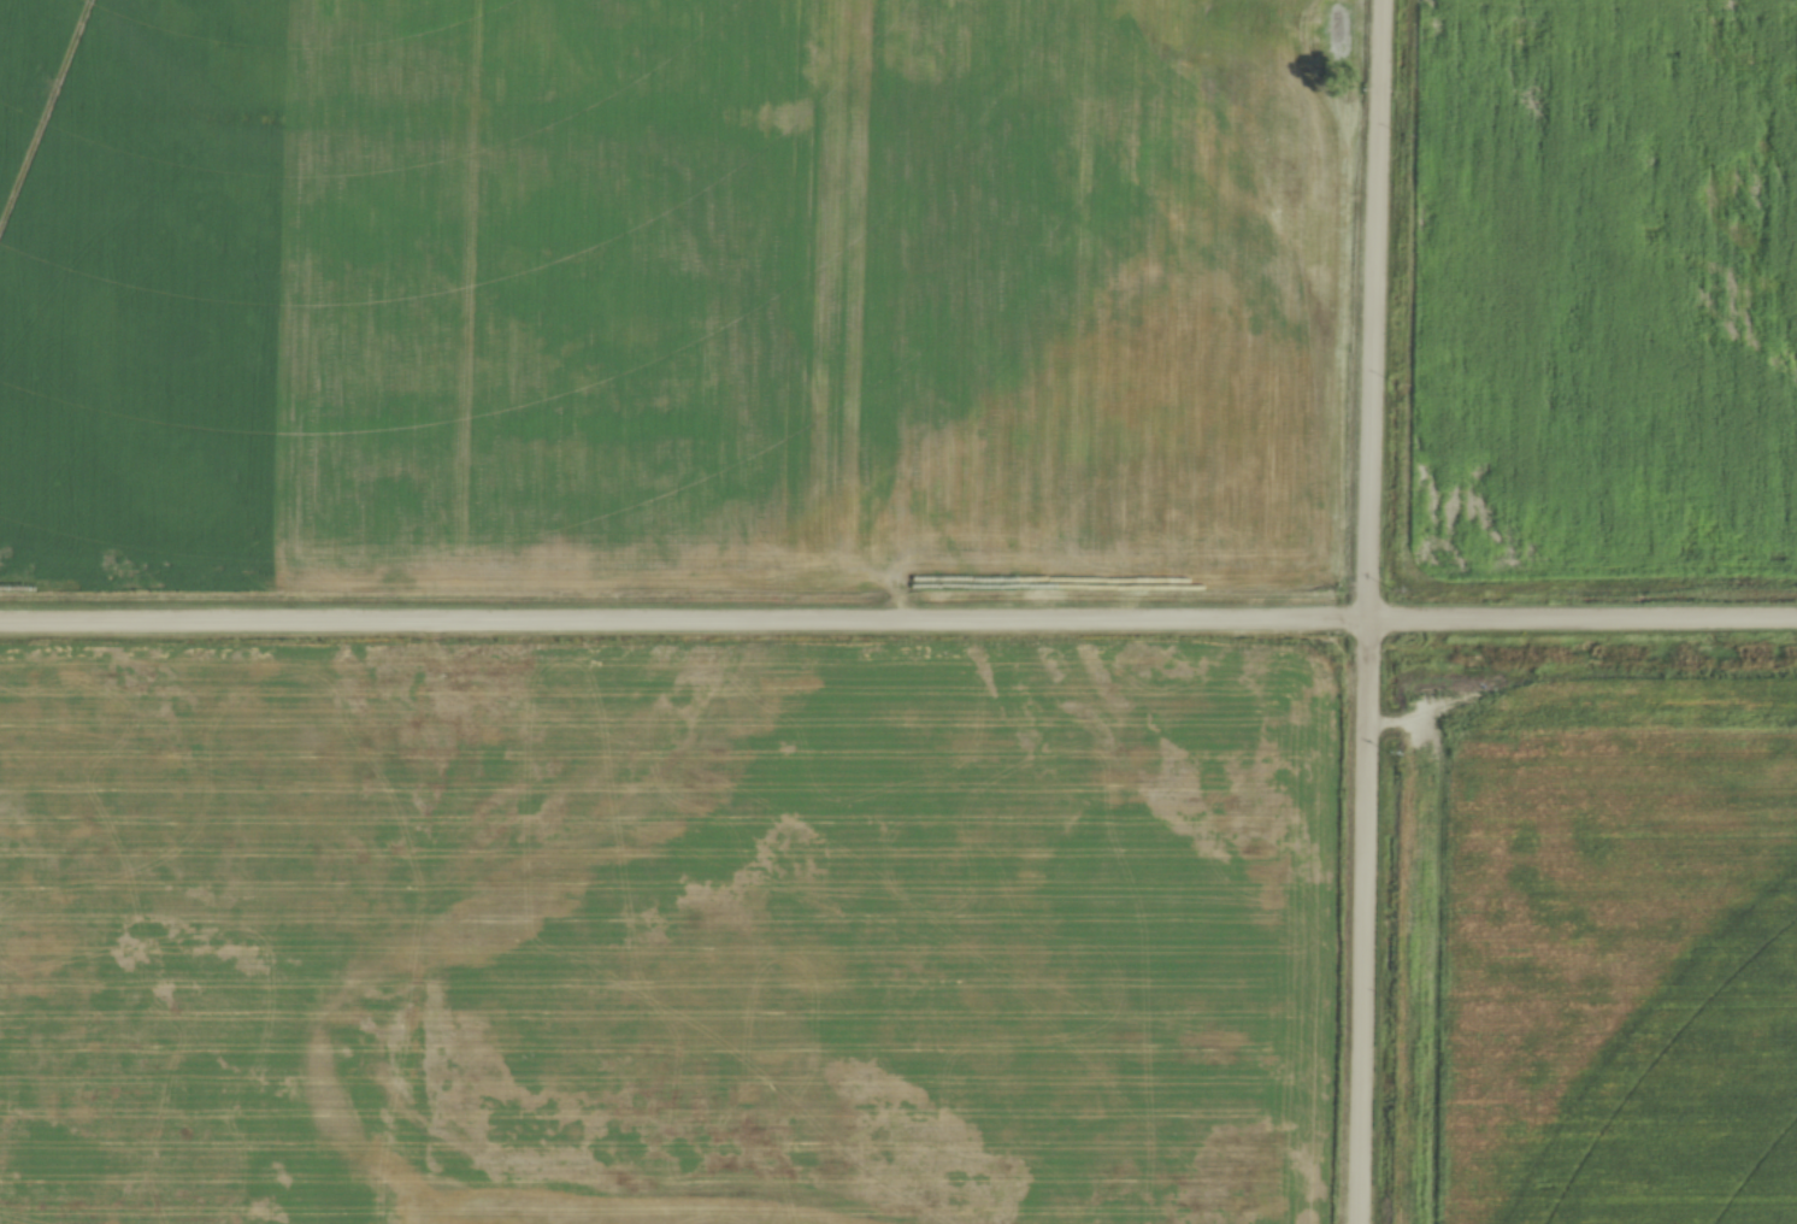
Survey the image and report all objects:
road: (1367, 611)
road: (898, 619)

